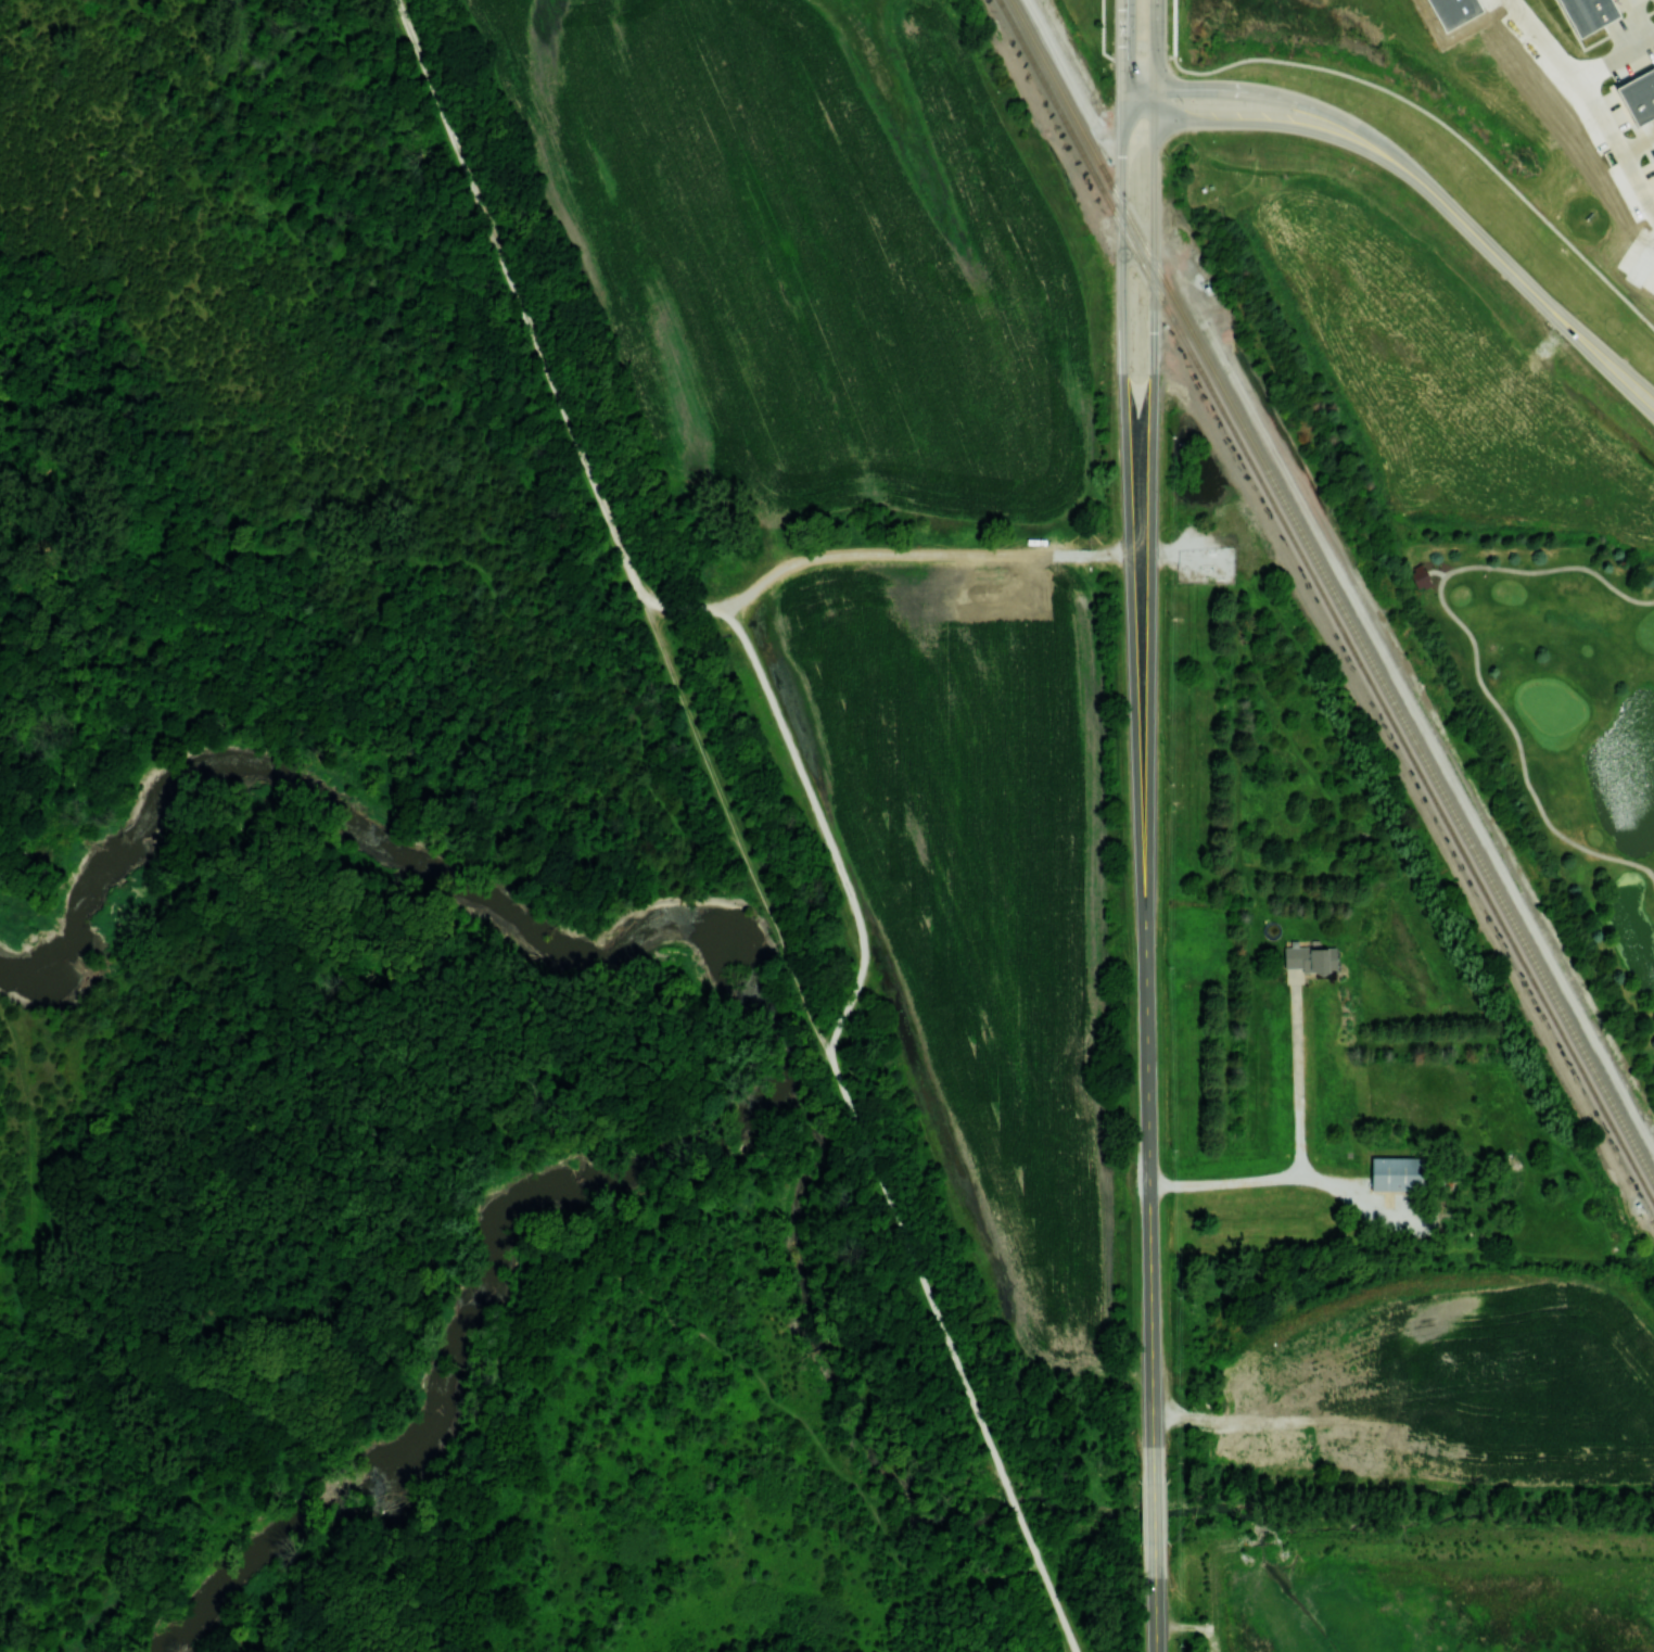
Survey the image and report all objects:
building: (1456, 11)
building: (1586, 14)
road: (1640, 20)
road: (1173, 27)
road: (1102, 37)
road: (1121, 41)
road: (1156, 42)
road: (1549, 58)
road: (1613, 59)
building: (1638, 99)
road: (1296, 102)
road: (1435, 117)
road: (1292, 123)
road: (1638, 137)
building: (1653, 153)
road: (1628, 156)
building: (1653, 157)
road: (1545, 304)
road: (1127, 506)
road: (1152, 506)
road: (434, 557)
road: (1435, 571)
building: (1418, 577)
railway: (1334, 589)
railway: (1325, 602)
road: (1476, 652)
road: (772, 706)
park: (1551, 710)
park: (1208, 715)
river: (379, 840)
building: (1309, 957)
road: (1300, 1153)
building: (1400, 1173)
road: (1149, 1205)
road: (637, 1284)
river: (457, 1334)
park: (47, 1358)
road: (1015, 1509)
road: (1154, 1513)
road: (1049, 1593)
road: (1155, 1597)

